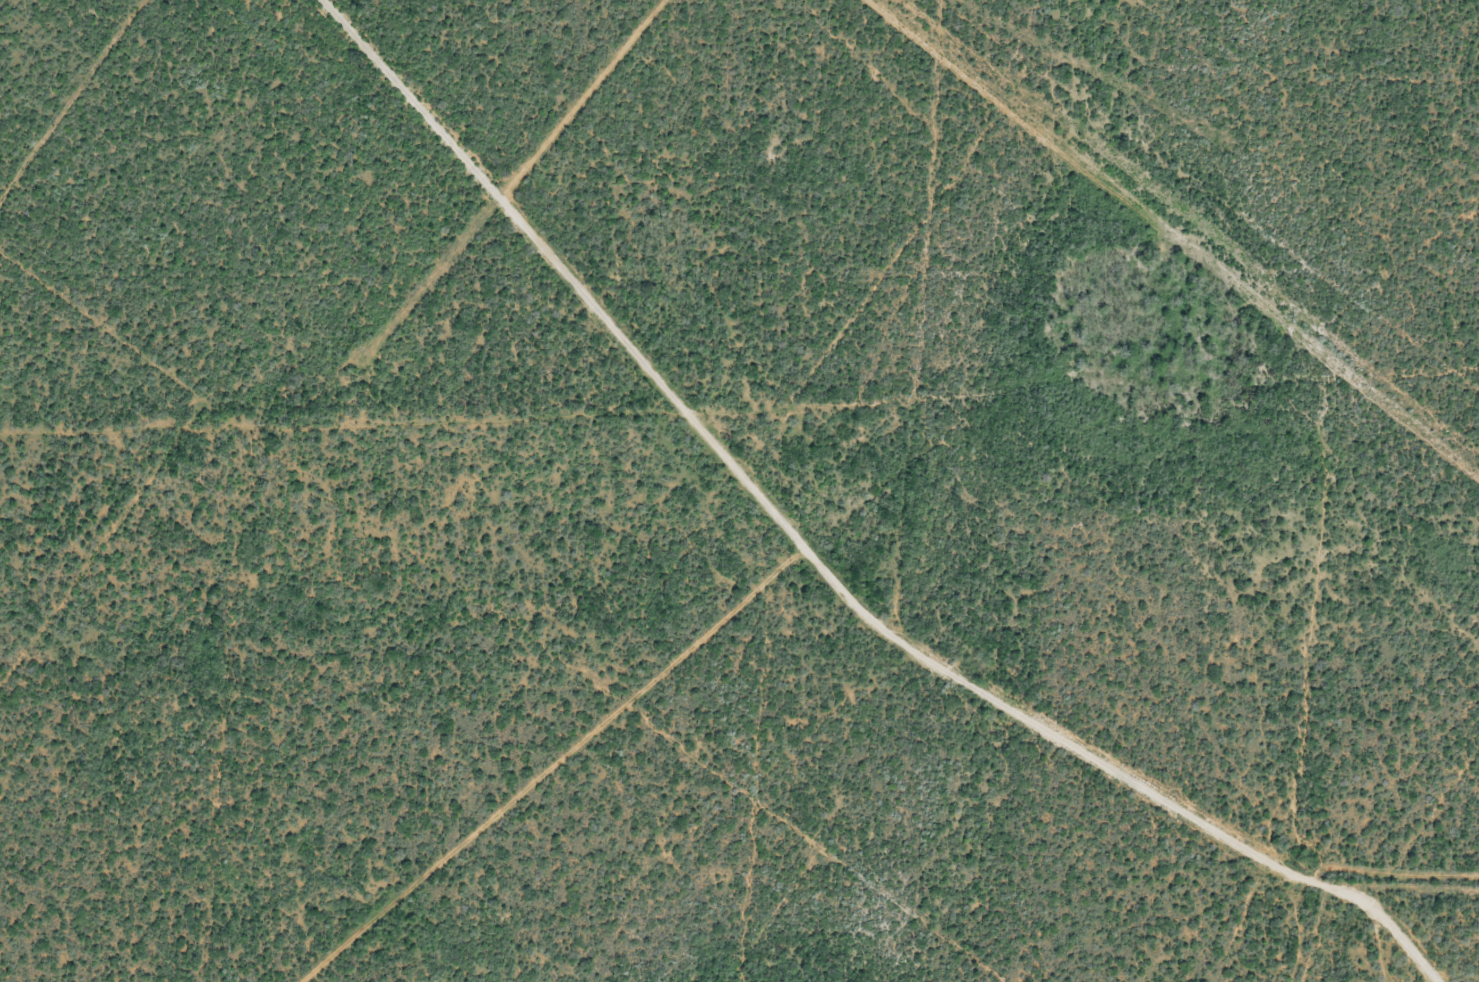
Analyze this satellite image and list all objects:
road: (967, 622)

